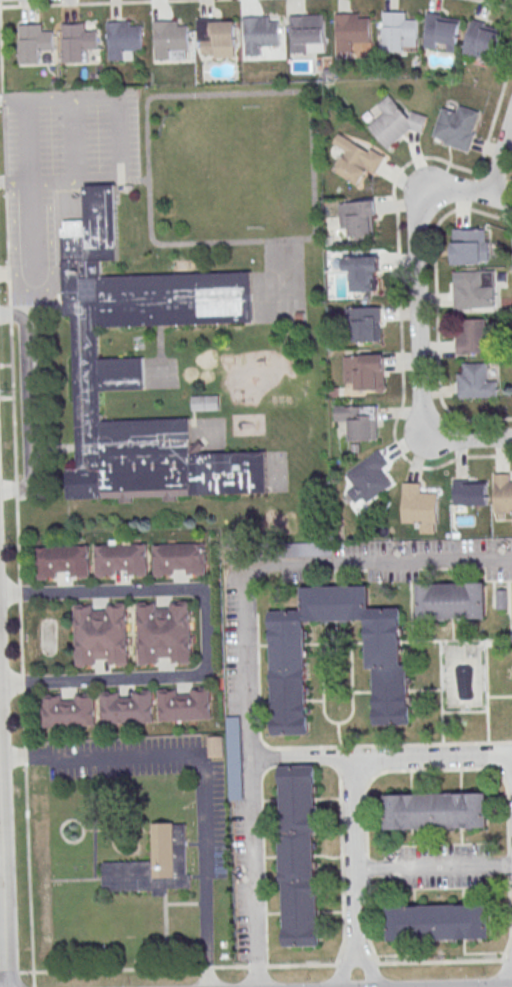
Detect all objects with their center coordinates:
road: (95, 3)
road: (494, 3)
building: (306, 31)
building: (351, 31)
building: (398, 32)
building: (441, 32)
building: (215, 34)
building: (259, 34)
building: (123, 39)
building: (170, 39)
building: (483, 40)
building: (78, 41)
building: (35, 42)
road: (1, 65)
road: (2, 100)
road: (493, 118)
building: (395, 123)
building: (457, 127)
road: (116, 138)
road: (3, 140)
road: (75, 142)
road: (30, 145)
road: (500, 158)
building: (354, 161)
road: (494, 178)
road: (5, 181)
road: (509, 182)
road: (510, 184)
road: (473, 185)
road: (425, 192)
road: (499, 200)
road: (506, 201)
road: (502, 215)
building: (357, 218)
road: (6, 226)
road: (36, 246)
building: (470, 246)
building: (363, 272)
road: (8, 273)
road: (414, 281)
building: (475, 290)
road: (8, 295)
road: (435, 310)
road: (9, 313)
building: (365, 324)
road: (400, 326)
building: (471, 336)
road: (5, 365)
building: (141, 367)
building: (365, 372)
building: (476, 381)
road: (6, 398)
road: (12, 400)
building: (205, 403)
road: (28, 405)
building: (358, 421)
road: (426, 430)
road: (470, 438)
building: (369, 479)
road: (15, 488)
building: (503, 493)
building: (470, 496)
building: (419, 505)
road: (17, 540)
building: (283, 550)
building: (179, 559)
building: (121, 560)
building: (64, 562)
road: (509, 562)
road: (284, 564)
road: (408, 564)
road: (471, 567)
road: (392, 568)
road: (335, 569)
road: (509, 573)
road: (408, 574)
road: (19, 593)
building: (501, 599)
building: (452, 602)
road: (251, 614)
road: (336, 629)
road: (206, 632)
building: (164, 634)
building: (101, 636)
road: (20, 638)
road: (461, 640)
building: (289, 644)
road: (22, 683)
road: (486, 691)
road: (441, 692)
building: (185, 706)
building: (127, 709)
building: (68, 711)
road: (23, 719)
road: (338, 734)
parking lot: (239, 738)
road: (322, 746)
building: (216, 747)
road: (160, 754)
road: (25, 756)
road: (312, 757)
building: (236, 759)
road: (301, 763)
road: (508, 763)
road: (435, 768)
road: (358, 784)
building: (436, 811)
parking lot: (211, 829)
building: (299, 856)
road: (508, 863)
building: (154, 865)
road: (434, 865)
road: (367, 868)
road: (253, 872)
road: (29, 876)
road: (3, 888)
road: (509, 918)
building: (438, 922)
road: (368, 923)
road: (206, 933)
road: (508, 960)
road: (440, 962)
road: (368, 963)
road: (346, 964)
road: (357, 964)
road: (301, 965)
road: (207, 967)
road: (231, 967)
road: (257, 967)
road: (109, 969)
road: (509, 971)
road: (9, 972)

